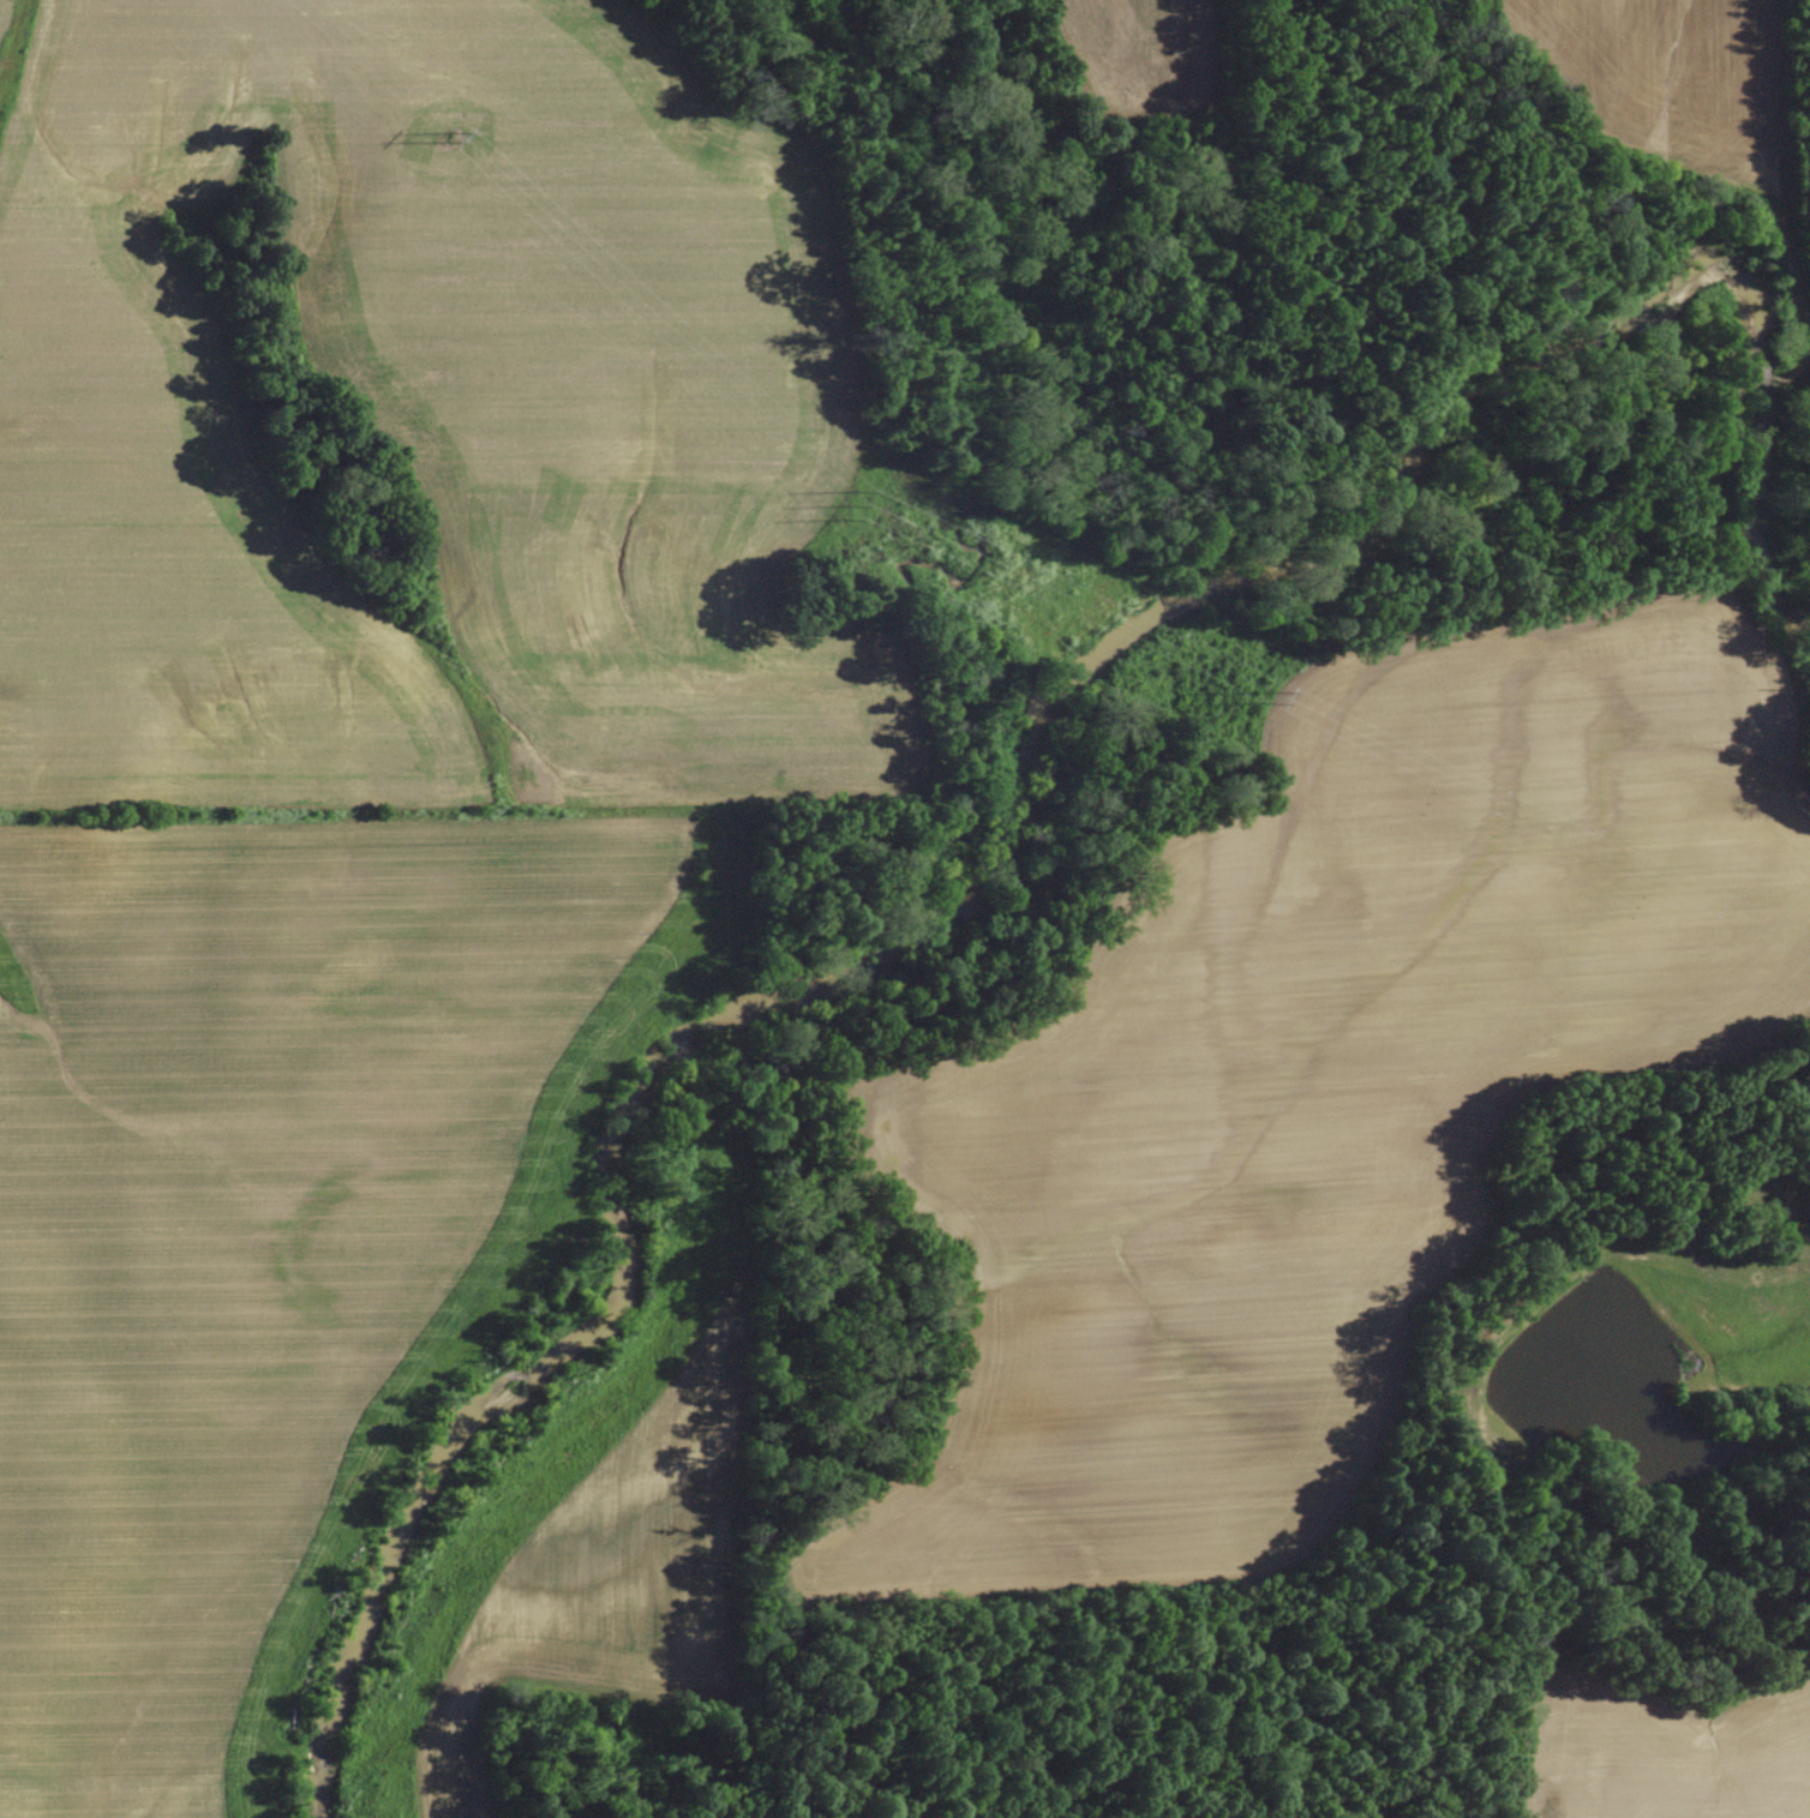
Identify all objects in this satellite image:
power tower: (456, 133)
power tower: (859, 510)
power tower: (1278, 698)

